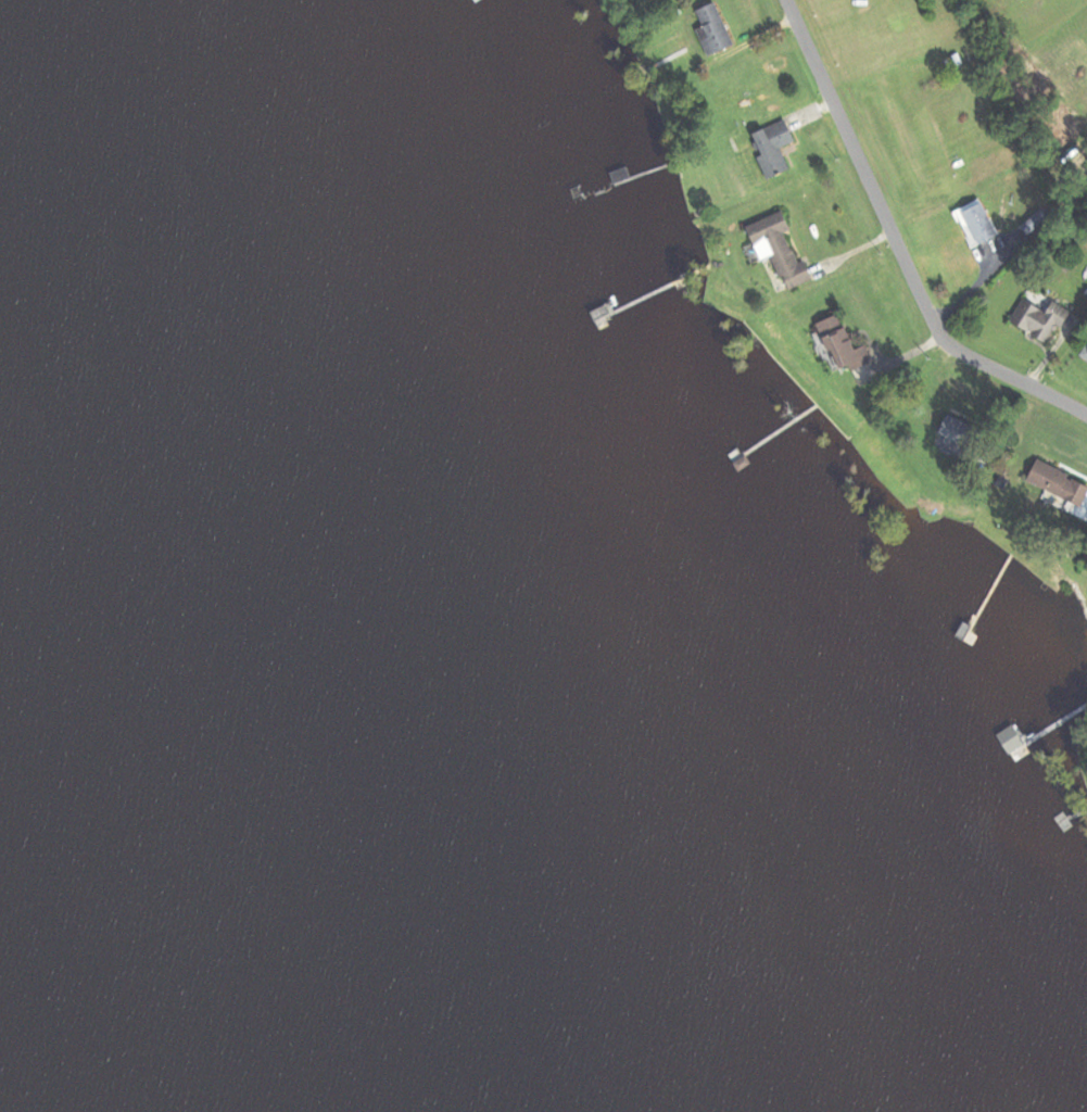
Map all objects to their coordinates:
building: (710, 28)
building: (769, 147)
building: (973, 222)
road: (890, 247)
building: (775, 249)
building: (1036, 319)
building: (836, 344)
building: (1083, 352)
building: (949, 428)
building: (1053, 482)

